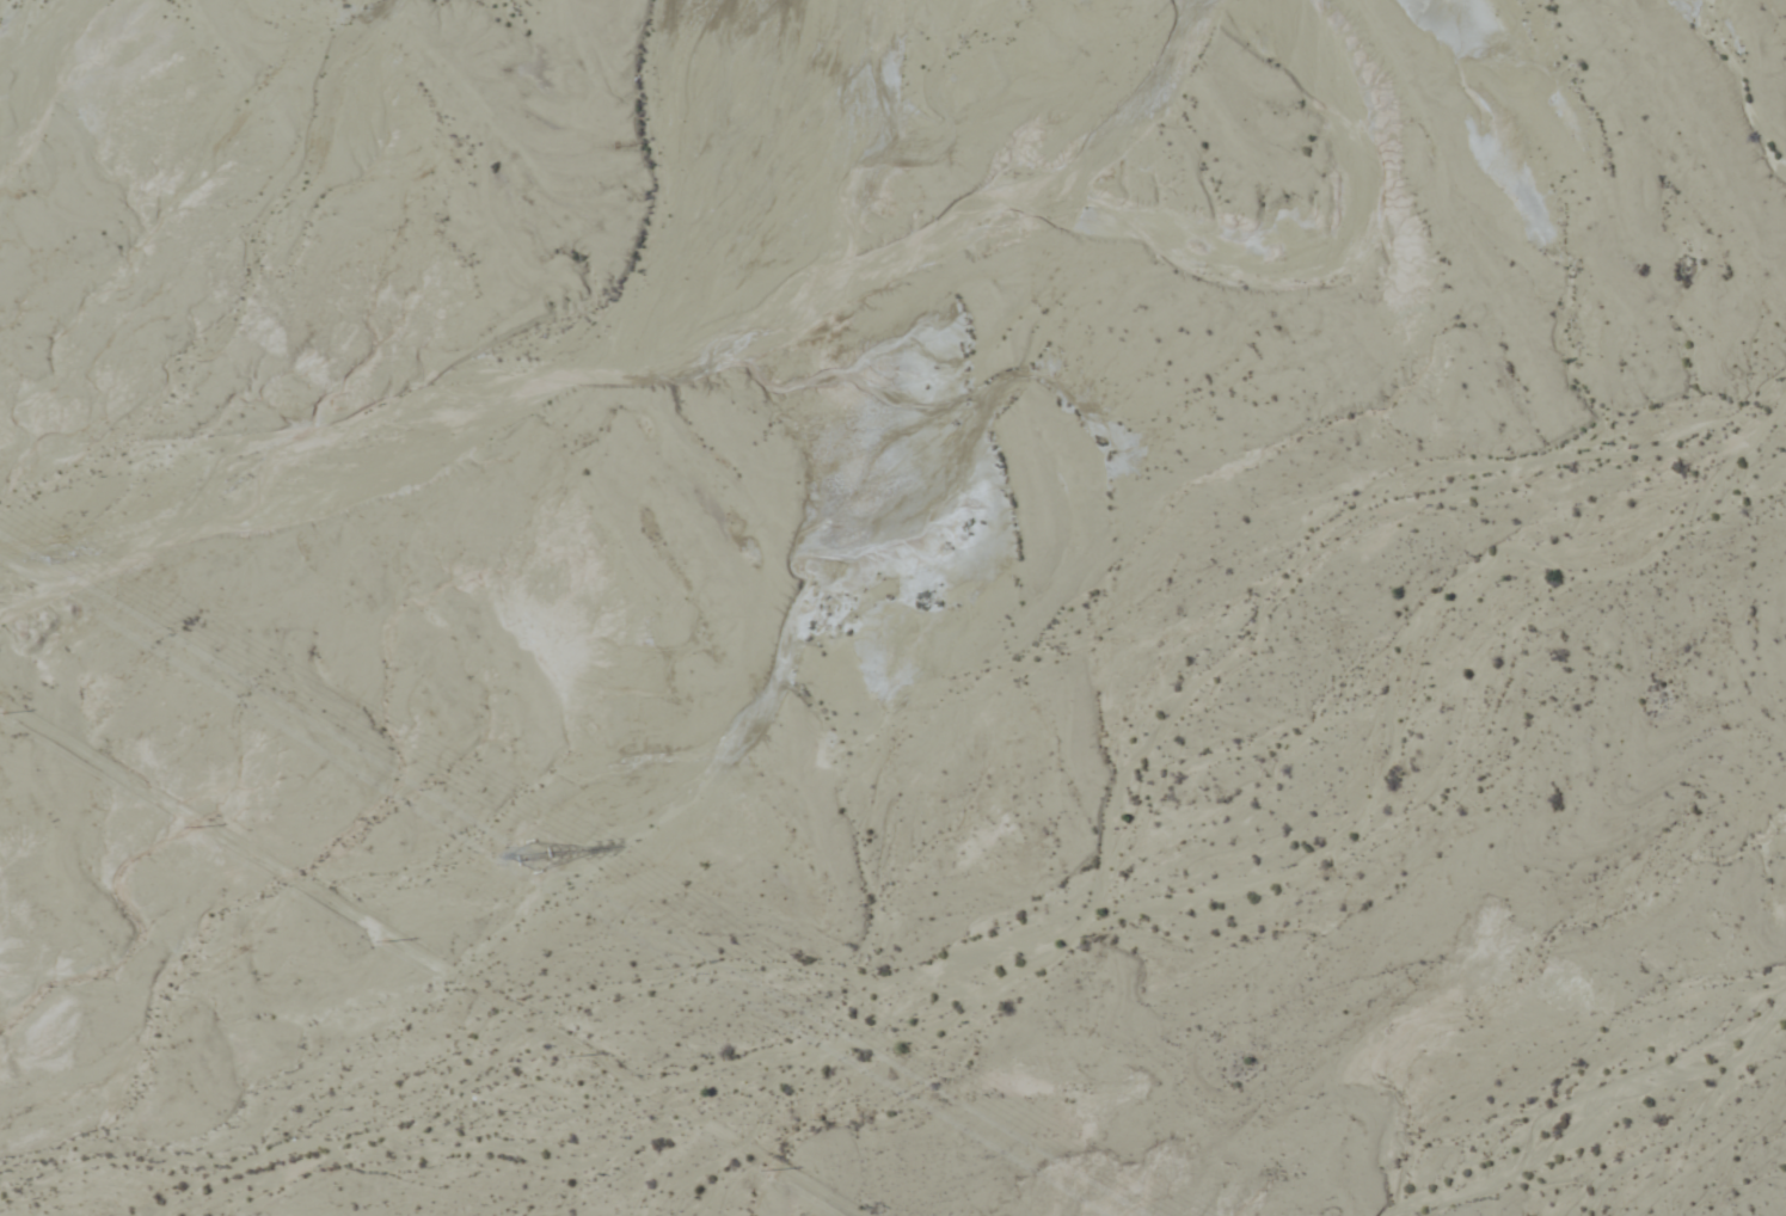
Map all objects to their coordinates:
power tower: (550, 862)

